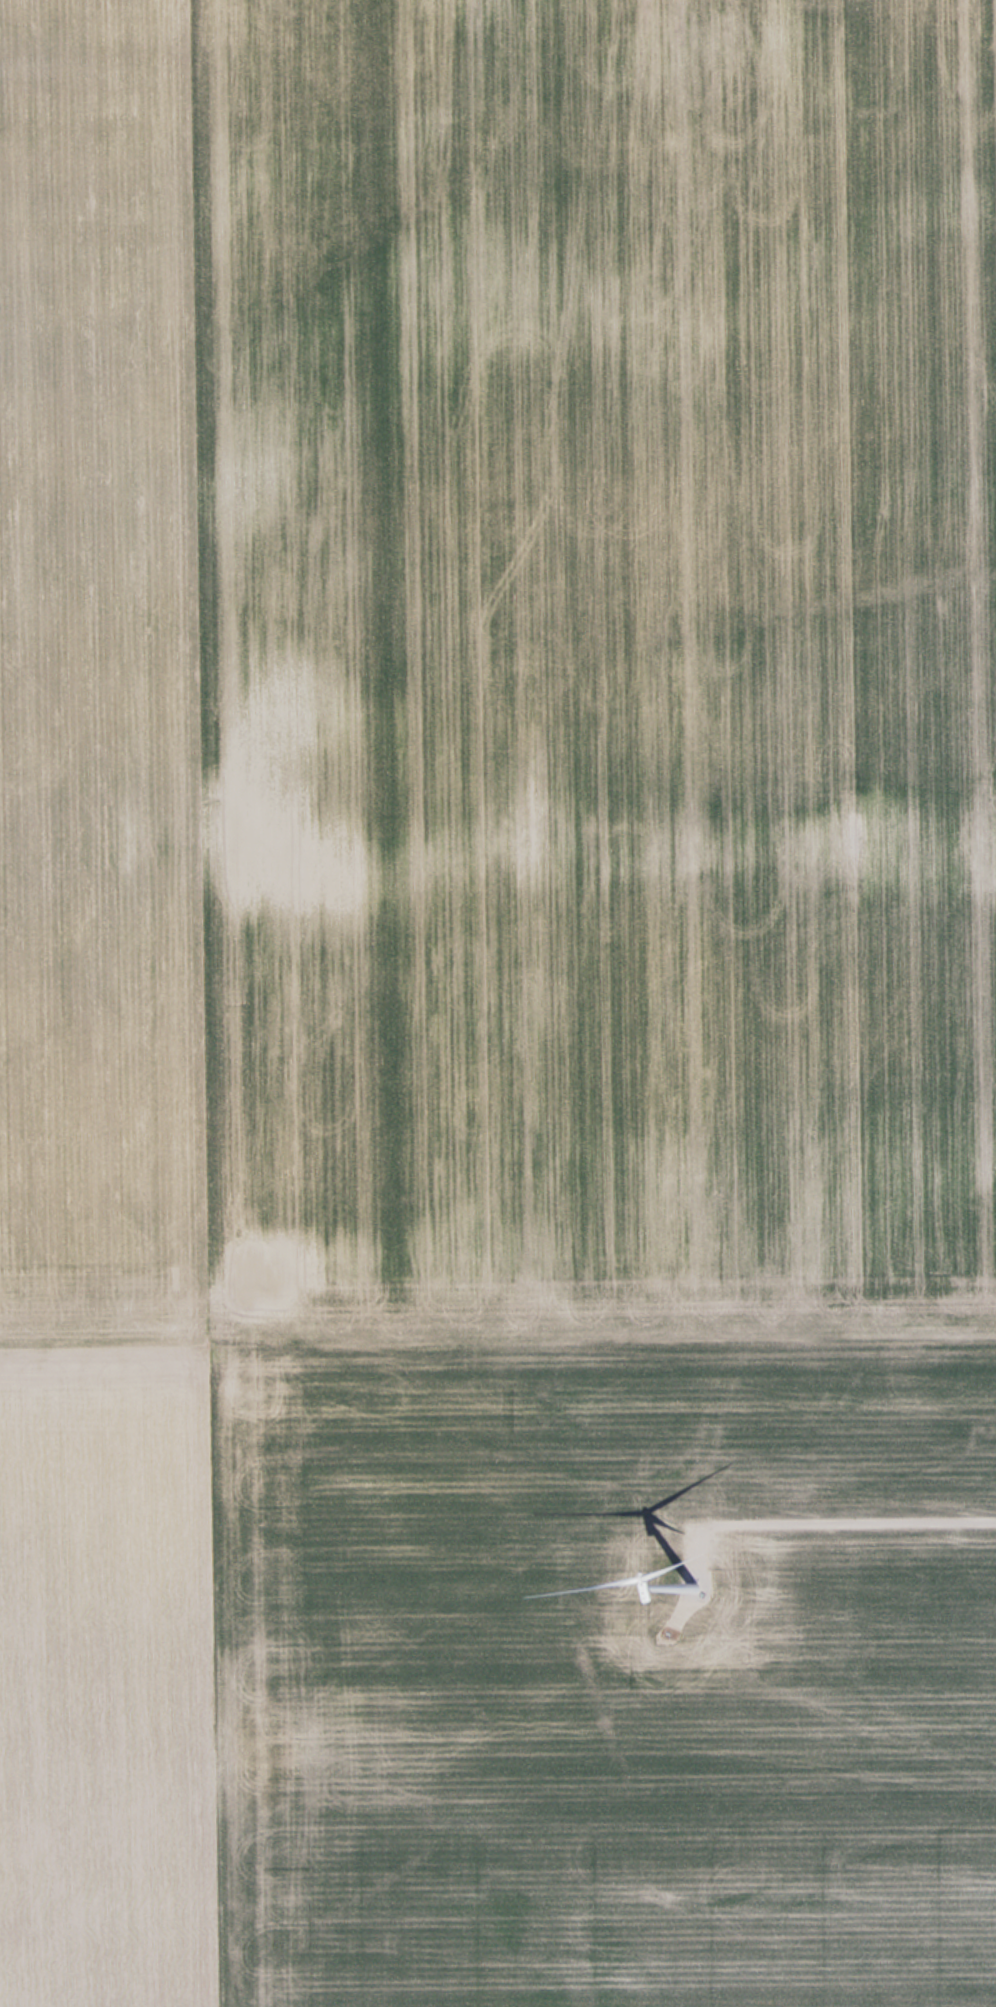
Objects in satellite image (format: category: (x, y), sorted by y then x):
road: (849, 1521)
wind turbine: (706, 1591)

